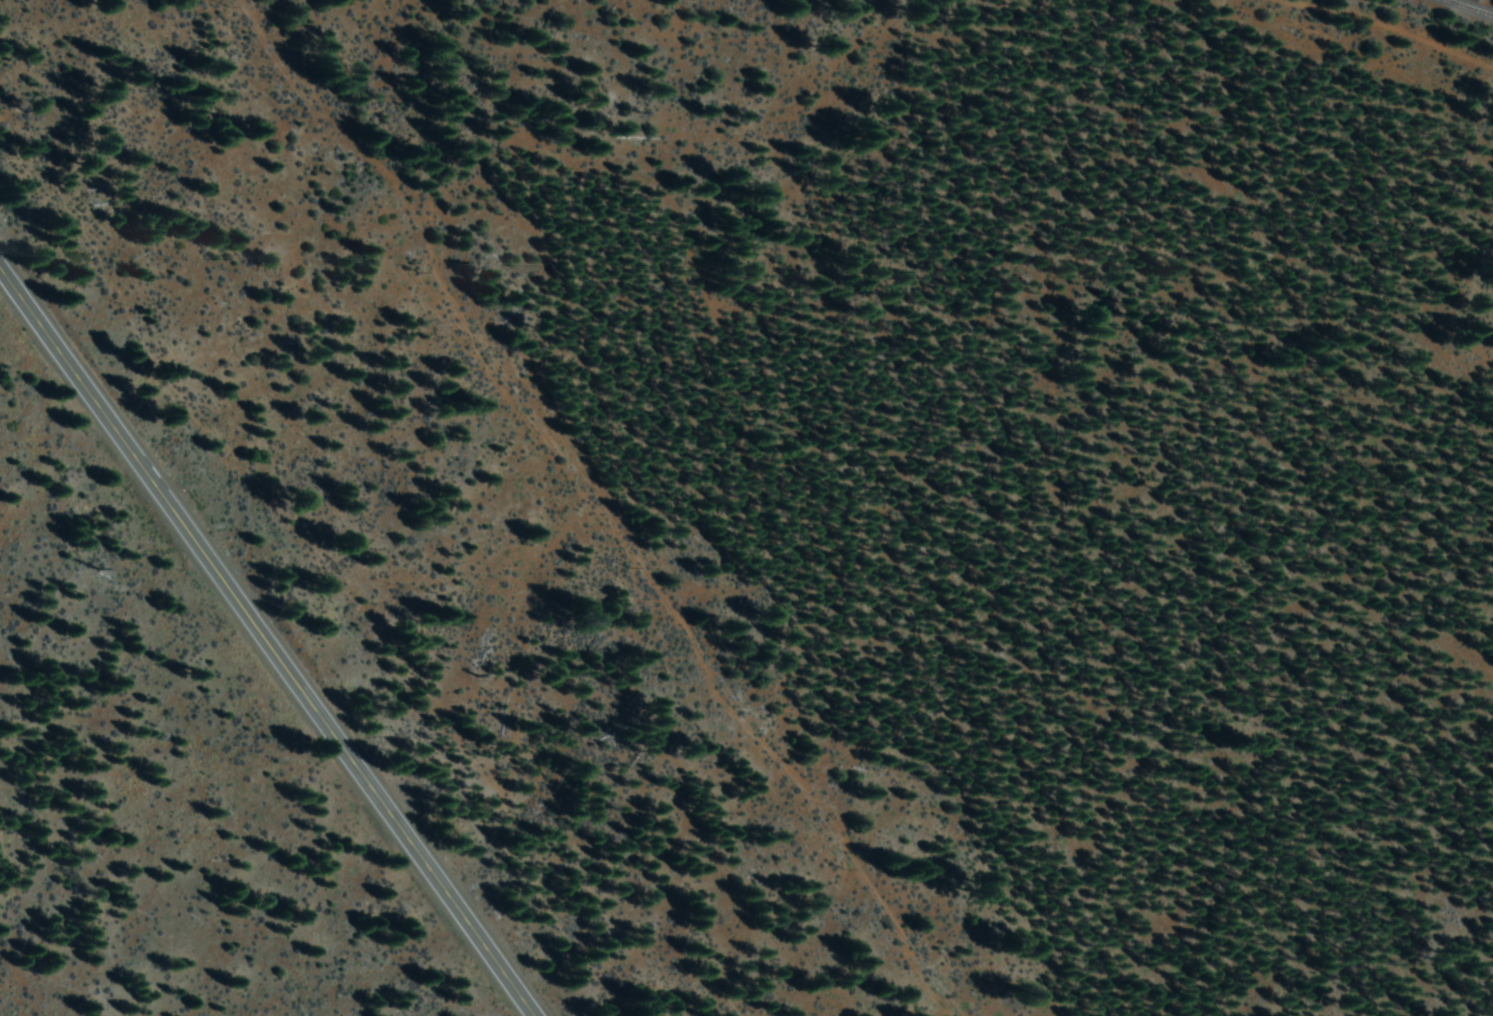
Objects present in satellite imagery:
railway: (1466, 8)
road: (267, 639)

